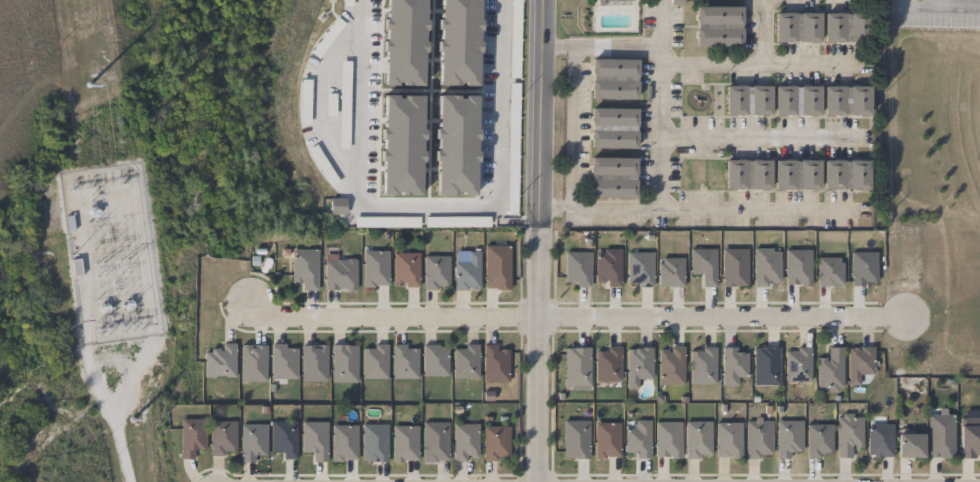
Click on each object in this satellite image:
road: (901, 2)
road: (942, 5)
power tower: (79, 15)
parking lot: (938, 19)
building: (718, 25)
building: (796, 26)
building: (845, 26)
road: (760, 31)
road: (623, 49)
road: (762, 66)
building: (613, 77)
building: (747, 100)
building: (796, 100)
building: (845, 100)
road: (357, 107)
building: (613, 127)
road: (659, 129)
road: (570, 130)
road: (762, 135)
park: (936, 155)
building: (746, 173)
building: (796, 174)
building: (845, 174)
building: (612, 176)
road: (413, 208)
road: (701, 210)
road: (537, 240)
power substation: (112, 257)
building: (703, 264)
building: (496, 266)
building: (607, 266)
building: (734, 266)
building: (765, 266)
building: (797, 267)
building: (375, 268)
building: (576, 268)
building: (639, 268)
building: (863, 268)
building: (304, 269)
building: (405, 269)
building: (466, 270)
building: (670, 271)
building: (828, 271)
building: (436, 272)
building: (340, 273)
road: (387, 316)
road: (720, 316)
building: (434, 359)
road: (92, 360)
building: (219, 360)
building: (282, 360)
building: (374, 360)
building: (313, 361)
building: (404, 361)
building: (465, 361)
building: (860, 361)
building: (252, 362)
building: (344, 362)
building: (495, 362)
building: (607, 363)
building: (797, 363)
building: (670, 364)
building: (733, 364)
building: (765, 364)
building: (638, 365)
building: (702, 365)
building: (576, 368)
building: (829, 370)
building: (849, 432)
building: (940, 432)
building: (191, 436)
building: (787, 436)
building: (758, 437)
building: (969, 437)
power tower: (139, 438)
building: (222, 438)
building: (284, 438)
building: (314, 439)
building: (575, 439)
building: (606, 439)
building: (637, 439)
building: (667, 439)
building: (728, 439)
building: (251, 440)
building: (697, 440)
building: (819, 440)
building: (879, 440)
building: (435, 441)
building: (465, 441)
building: (344, 442)
building: (374, 442)
building: (495, 442)
building: (404, 443)
building: (909, 445)

